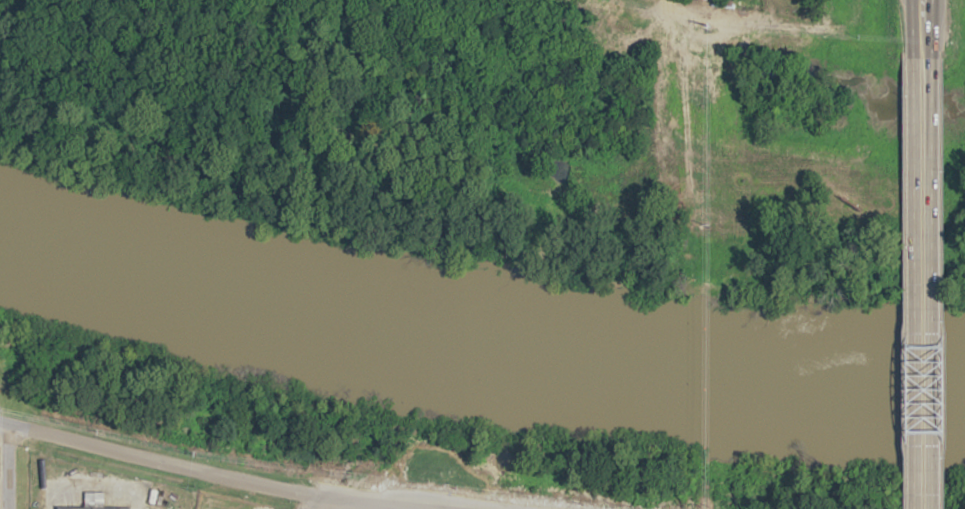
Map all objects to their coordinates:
road: (665, 1)
road: (912, 28)
road: (931, 29)
road: (912, 282)
road: (931, 283)
river: (479, 331)
road: (9, 467)
road: (208, 472)
road: (326, 504)
building: (91, 508)

